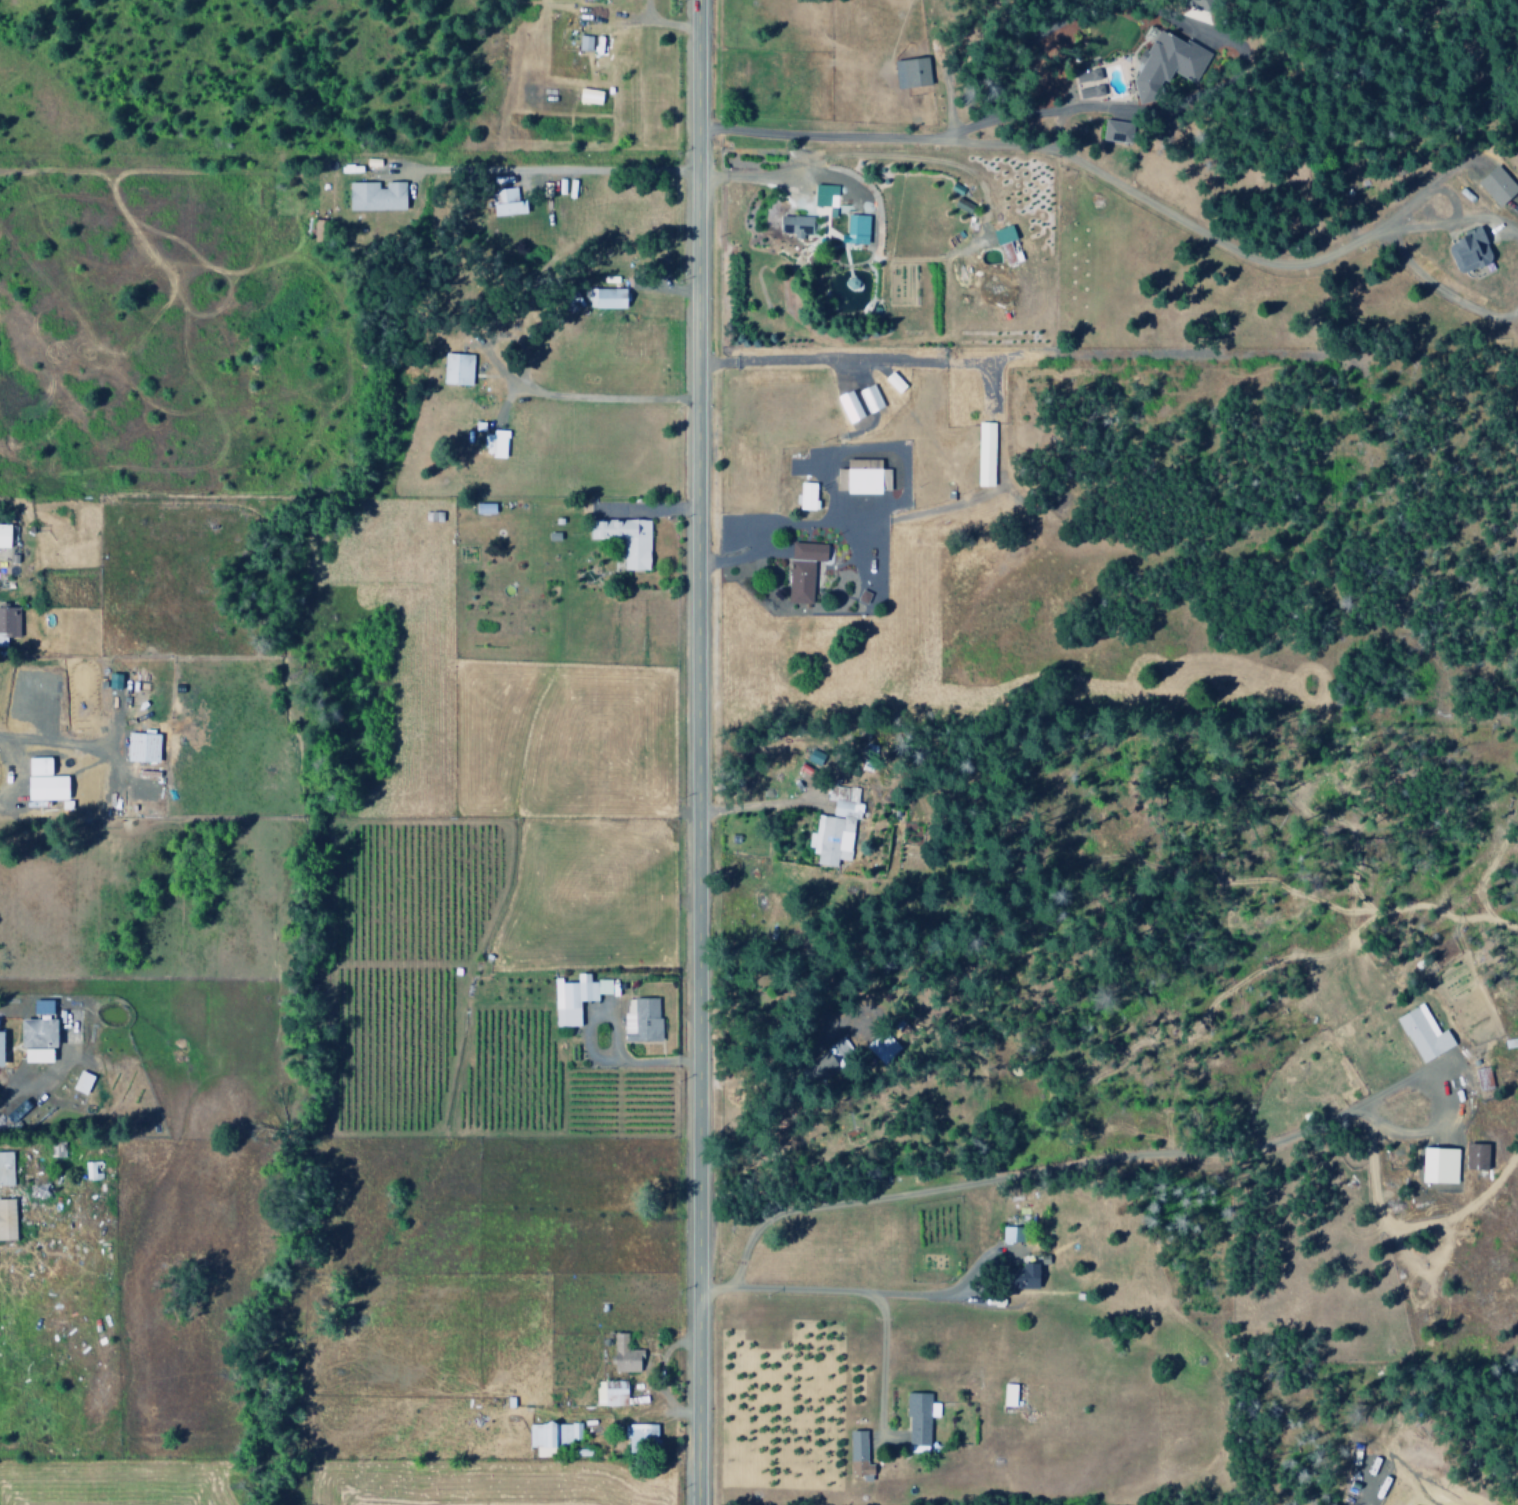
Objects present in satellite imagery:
building: (1191, 4)
building: (581, 42)
building: (1164, 61)
building: (907, 72)
building: (1083, 75)
building: (1086, 91)
building: (585, 96)
building: (1110, 131)
road: (1110, 180)
building: (1492, 185)
building: (822, 195)
building: (379, 196)
building: (502, 201)
building: (792, 225)
building: (852, 229)
building: (319, 231)
road: (1383, 238)
building: (1002, 244)
building: (1464, 249)
park: (500, 290)
building: (603, 298)
building: (453, 368)
building: (890, 382)
building: (867, 397)
building: (844, 406)
building: (494, 444)
building: (981, 453)
building: (859, 476)
building: (803, 496)
building: (480, 508)
building: (6, 536)
building: (621, 539)
building: (799, 570)
building: (9, 621)
building: (138, 747)
road: (693, 752)
building: (47, 781)
building: (833, 827)
building: (572, 998)
building: (639, 1021)
building: (1420, 1033)
building: (34, 1034)
building: (878, 1047)
building: (821, 1061)
building: (1475, 1079)
building: (78, 1082)
building: (14, 1111)
building: (1472, 1157)
building: (1434, 1166)
building: (3, 1168)
building: (90, 1170)
road: (1078, 1170)
building: (4, 1220)
building: (1006, 1235)
building: (1016, 1277)
road: (860, 1292)
building: (620, 1355)
building: (611, 1393)
building: (1005, 1395)
building: (915, 1419)
building: (636, 1435)
building: (855, 1456)

